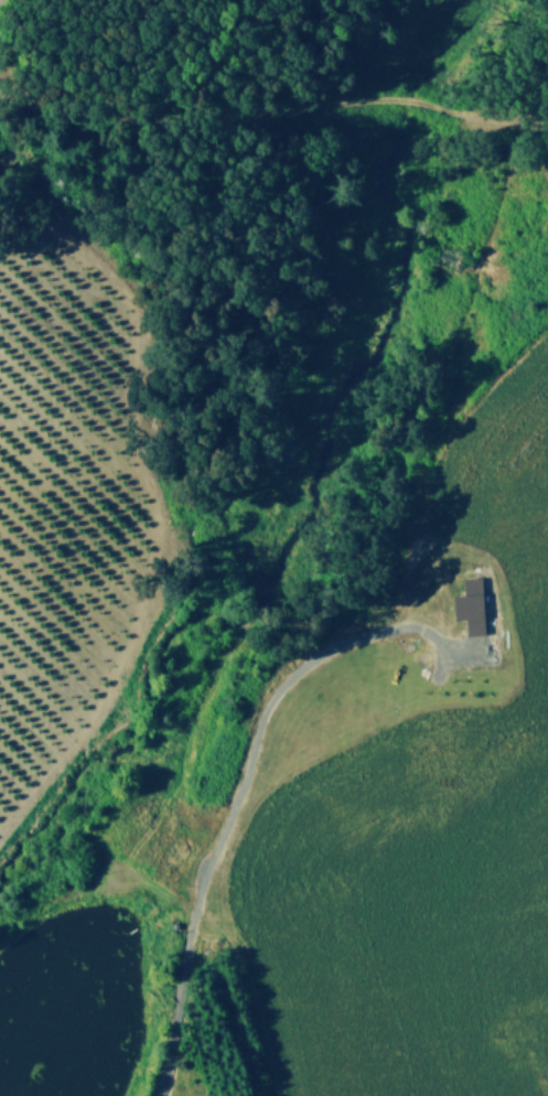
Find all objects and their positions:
building: (468, 606)

